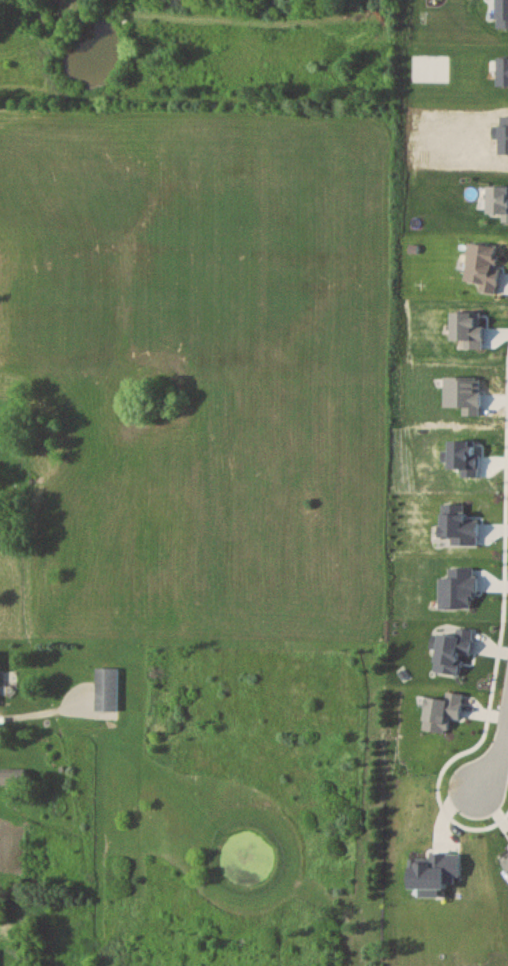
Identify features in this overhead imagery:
building: (105, 688)
road: (495, 752)
building: (11, 778)

